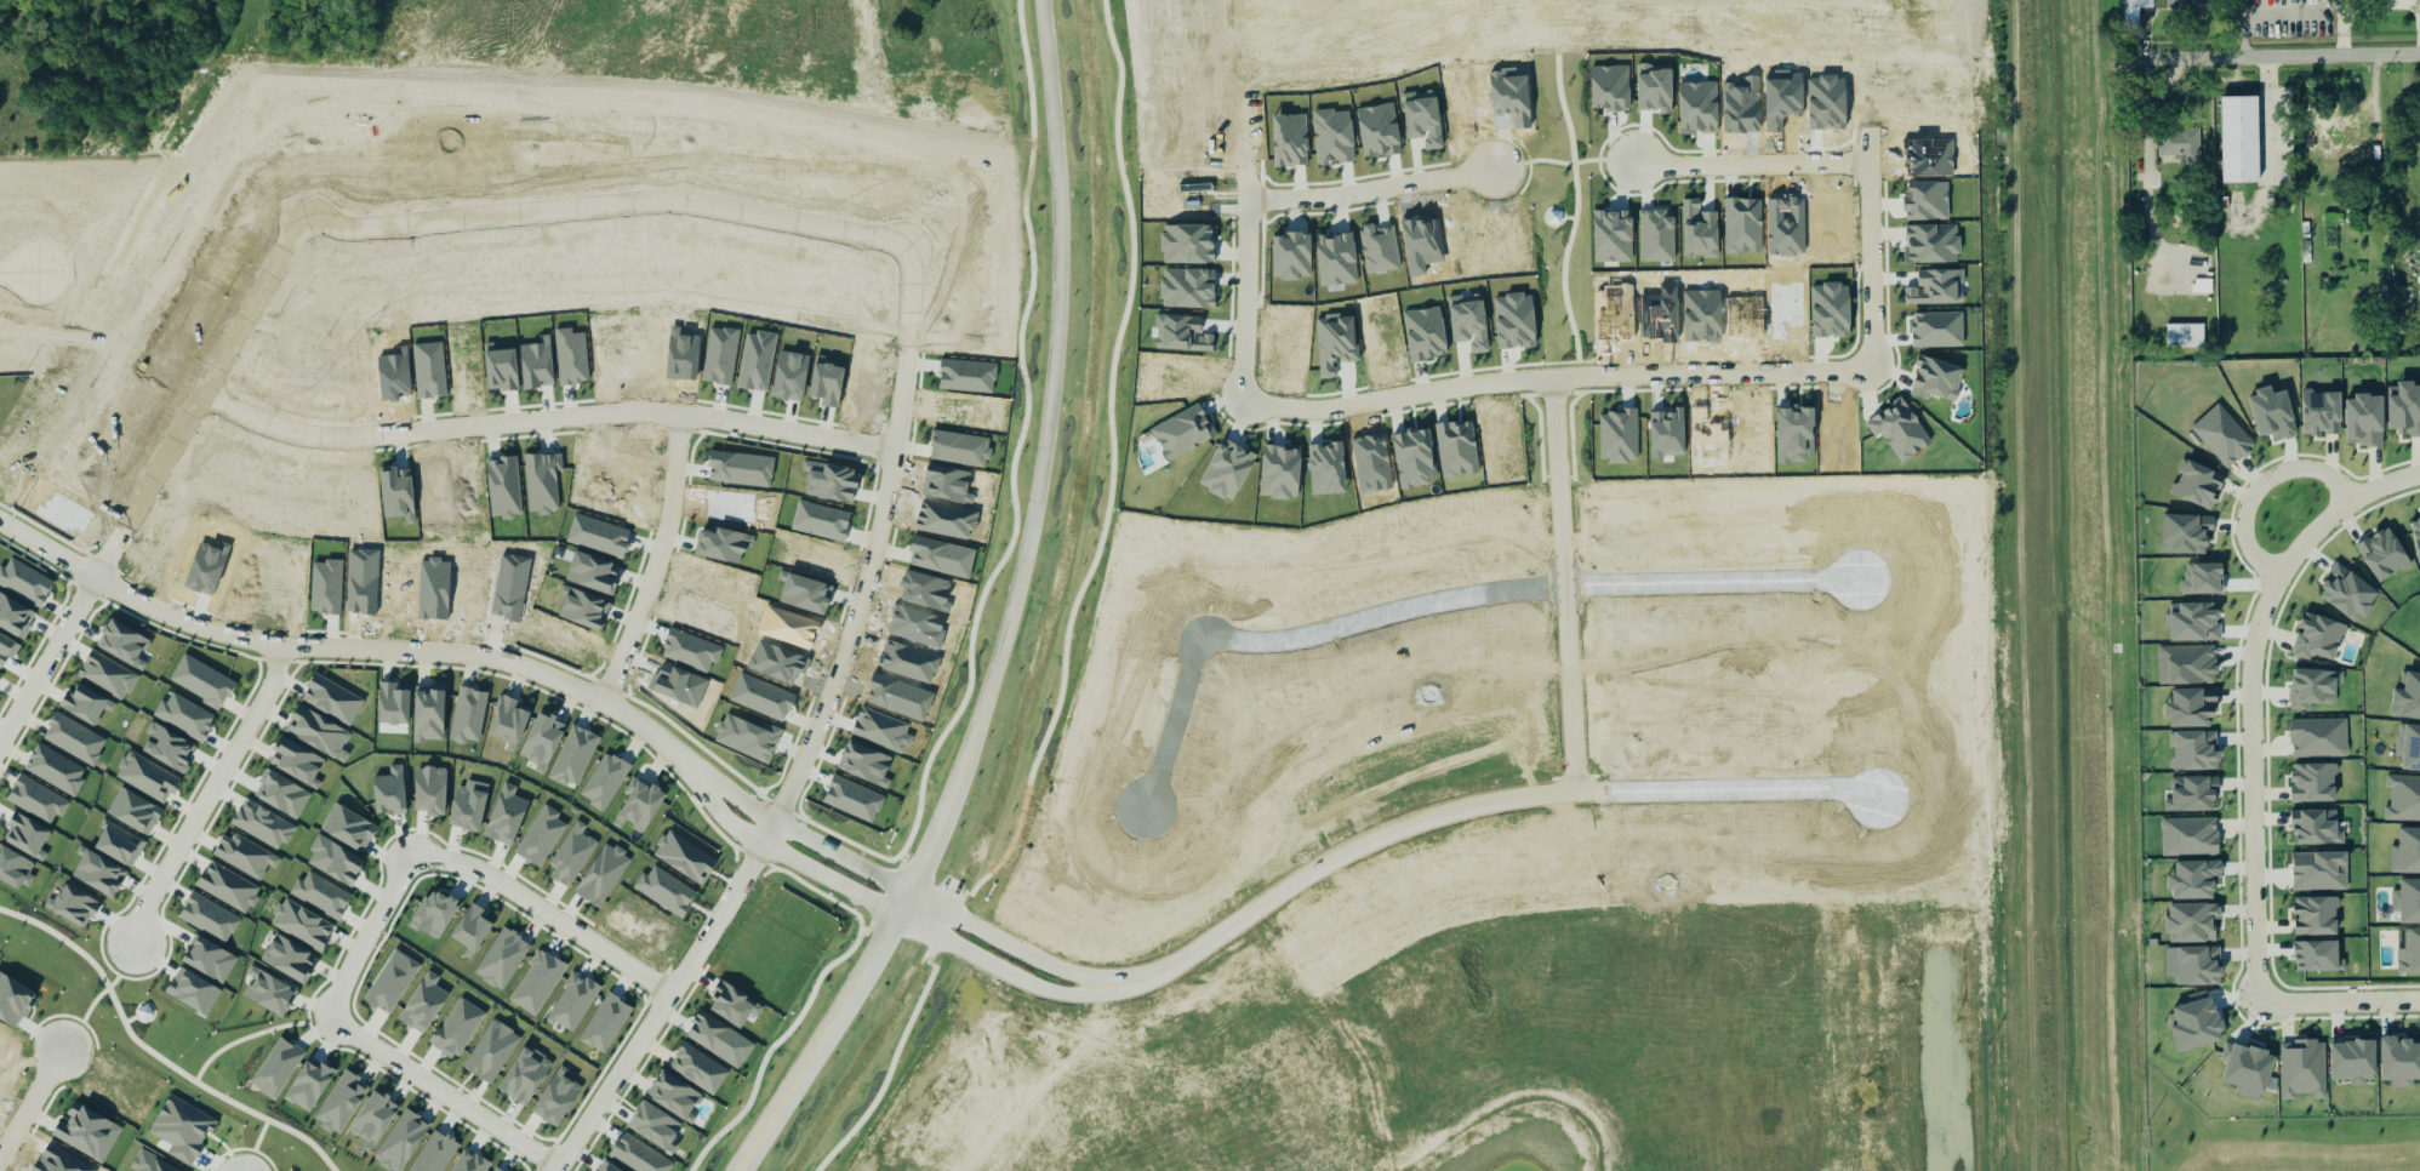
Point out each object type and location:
building: (2139, 5)
building: (2186, 5)
road: (2283, 58)
building: (1423, 119)
road: (2148, 122)
building: (1377, 130)
building: (2237, 142)
building: (2180, 145)
road: (1753, 165)
road: (1374, 189)
road: (461, 223)
building: (1335, 259)
road: (19, 279)
building: (1469, 322)
building: (2185, 336)
road: (1553, 377)
building: (2404, 409)
building: (2321, 411)
building: (2272, 415)
road: (588, 421)
building: (2364, 421)
building: (2222, 436)
road: (832, 442)
building: (2198, 484)
road: (2259, 486)
road: (2369, 493)
building: (2186, 535)
building: (2416, 536)
road: (48, 552)
building: (2384, 555)
building: (24, 582)
road: (1565, 584)
building: (2348, 594)
road: (1439, 601)
building: (15, 616)
road: (1010, 617)
building: (2194, 622)
building: (2318, 638)
building: (122, 644)
road: (852, 644)
road: (403, 653)
road: (48, 661)
building: (2187, 666)
building: (0, 674)
building: (107, 674)
building: (201, 681)
building: (2312, 689)
building: (2407, 696)
building: (332, 698)
building: (85, 704)
building: (393, 704)
building: (2191, 708)
building: (428, 713)
building: (468, 715)
building: (184, 716)
building: (508, 720)
building: (316, 732)
building: (2319, 738)
building: (74, 739)
building: (542, 742)
building: (167, 747)
building: (2408, 747)
building: (2193, 750)
road: (2253, 752)
building: (296, 761)
building: (55, 770)
building: (145, 777)
building: (605, 781)
building: (2313, 783)
building: (429, 790)
building: (389, 792)
building: (2192, 795)
road: (199, 796)
building: (2403, 799)
building: (36, 800)
building: (639, 805)
building: (467, 810)
road: (1472, 810)
building: (133, 812)
building: (507, 816)
building: (2318, 827)
building: (27, 836)
building: (541, 836)
road: (794, 838)
building: (2190, 838)
building: (2407, 852)
building: (571, 855)
building: (245, 856)
building: (684, 857)
road: (778, 861)
building: (15, 869)
building: (2319, 872)
building: (98, 874)
building: (601, 875)
building: (2194, 880)
building: (228, 887)
building: (664, 891)
building: (321, 895)
building: (2408, 902)
building: (73, 907)
building: (435, 913)
road: (543, 916)
building: (2316, 916)
building: (209, 919)
building: (2192, 922)
building: (302, 925)
building: (472, 927)
road: (367, 937)
road: (1005, 943)
building: (2409, 953)
building: (2317, 956)
building: (289, 958)
building: (502, 959)
building: (2198, 966)
road: (995, 971)
building: (537, 982)
building: (390, 984)
building: (268, 992)
road: (664, 998)
building: (572, 1003)
road: (2338, 1003)
building: (423, 1004)
building: (732, 1006)
road: (1290, 1015)
road: (1513, 1016)
building: (457, 1028)
road: (1265, 1032)
building: (491, 1052)
road: (1885, 1056)
building: (2353, 1062)
building: (2399, 1062)
building: (698, 1069)
building: (2302, 1069)
building: (2247, 1070)
building: (524, 1075)
road: (444, 1096)
building: (674, 1096)
building: (557, 1098)
building: (341, 1103)
road: (32, 1106)
building: (373, 1118)
building: (653, 1126)
building: (401, 1141)
road: (1166, 1149)
building: (469, 1163)
building: (152, 1165)
building: (604, 1167)
building: (495, 1170)

